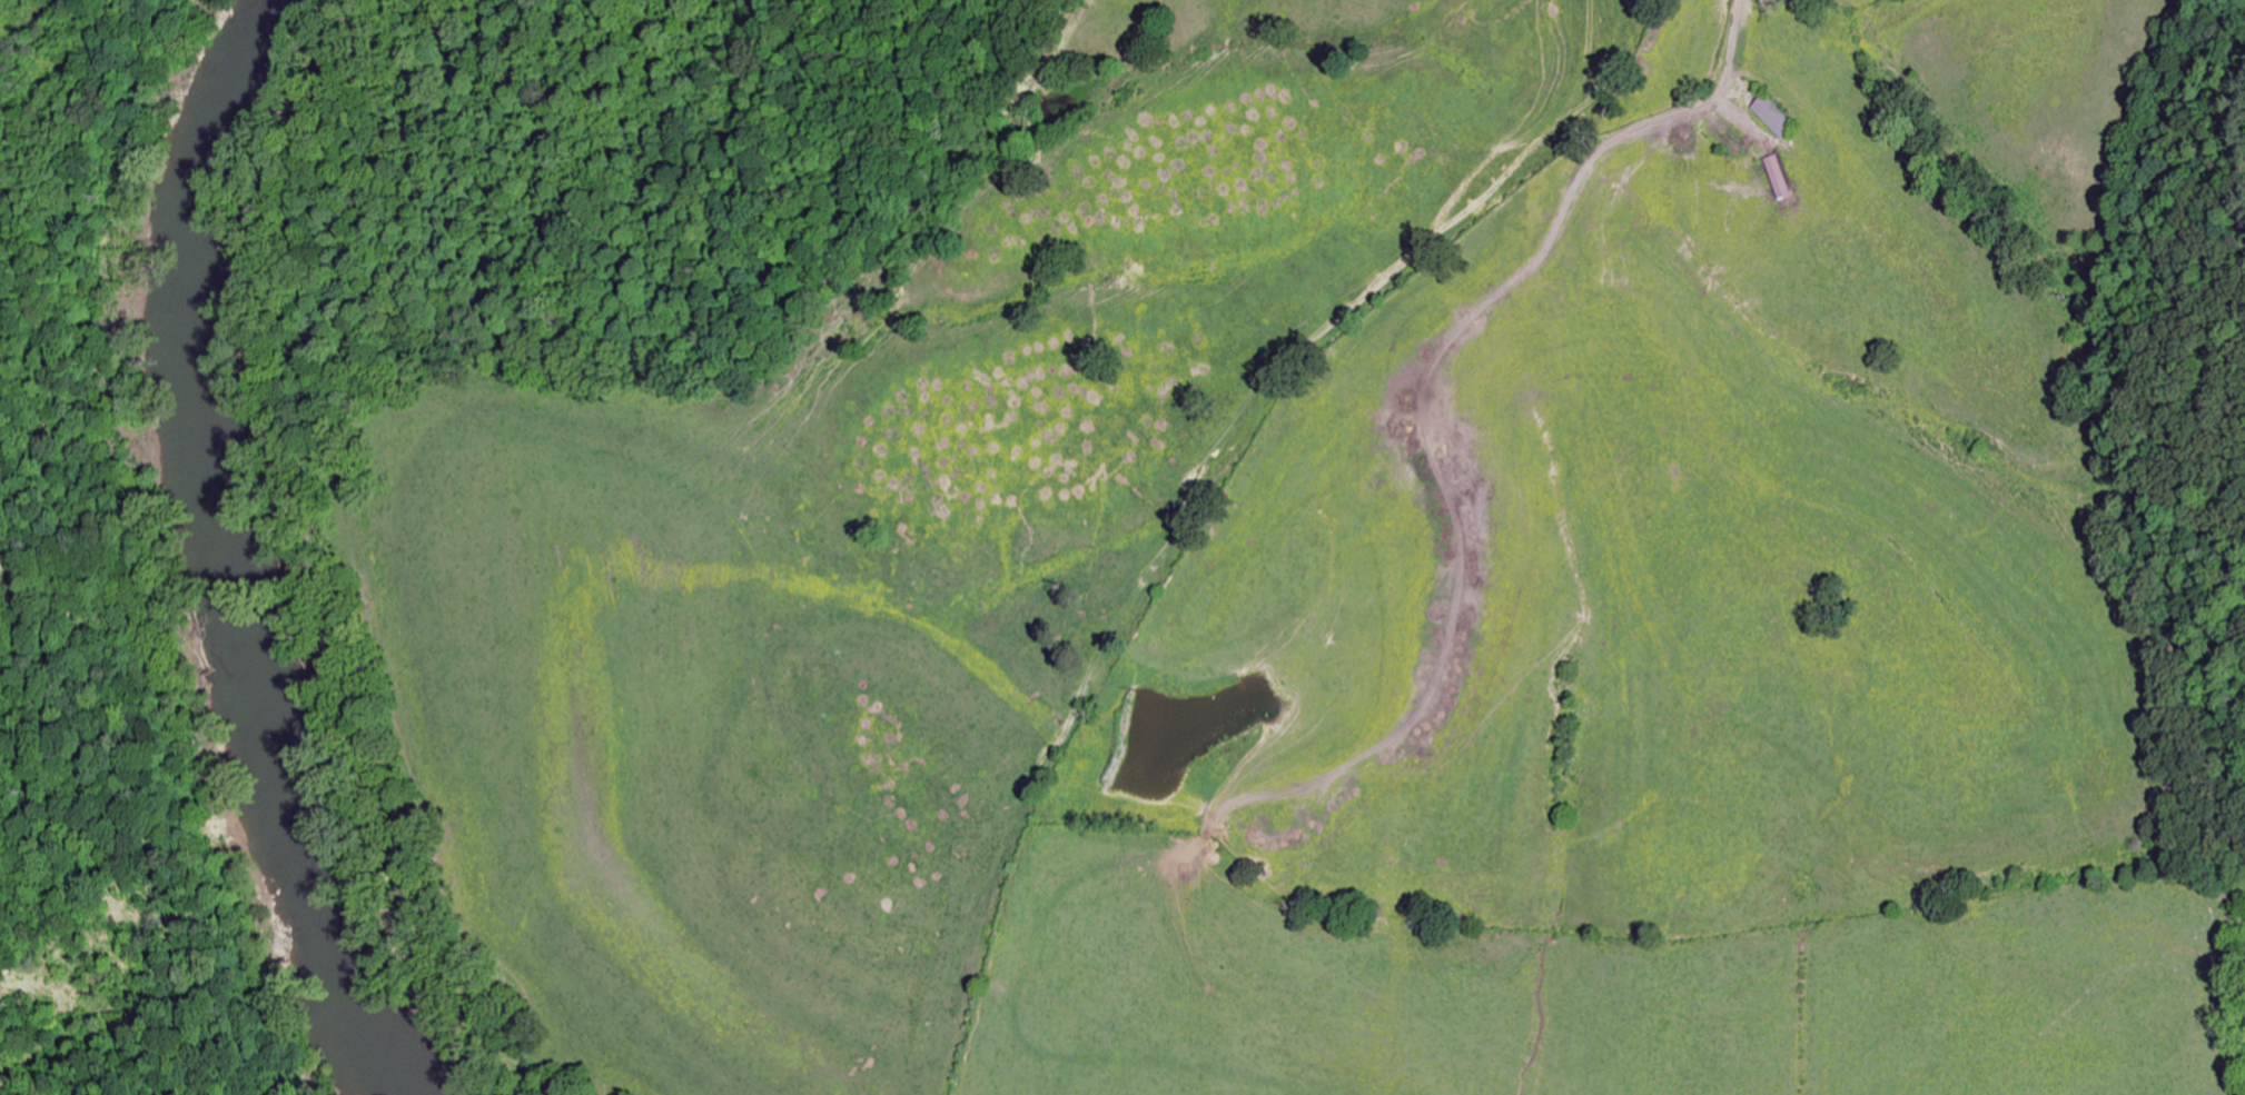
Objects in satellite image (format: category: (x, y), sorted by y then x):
building: (1779, 118)
building: (1784, 179)
river: (225, 568)

